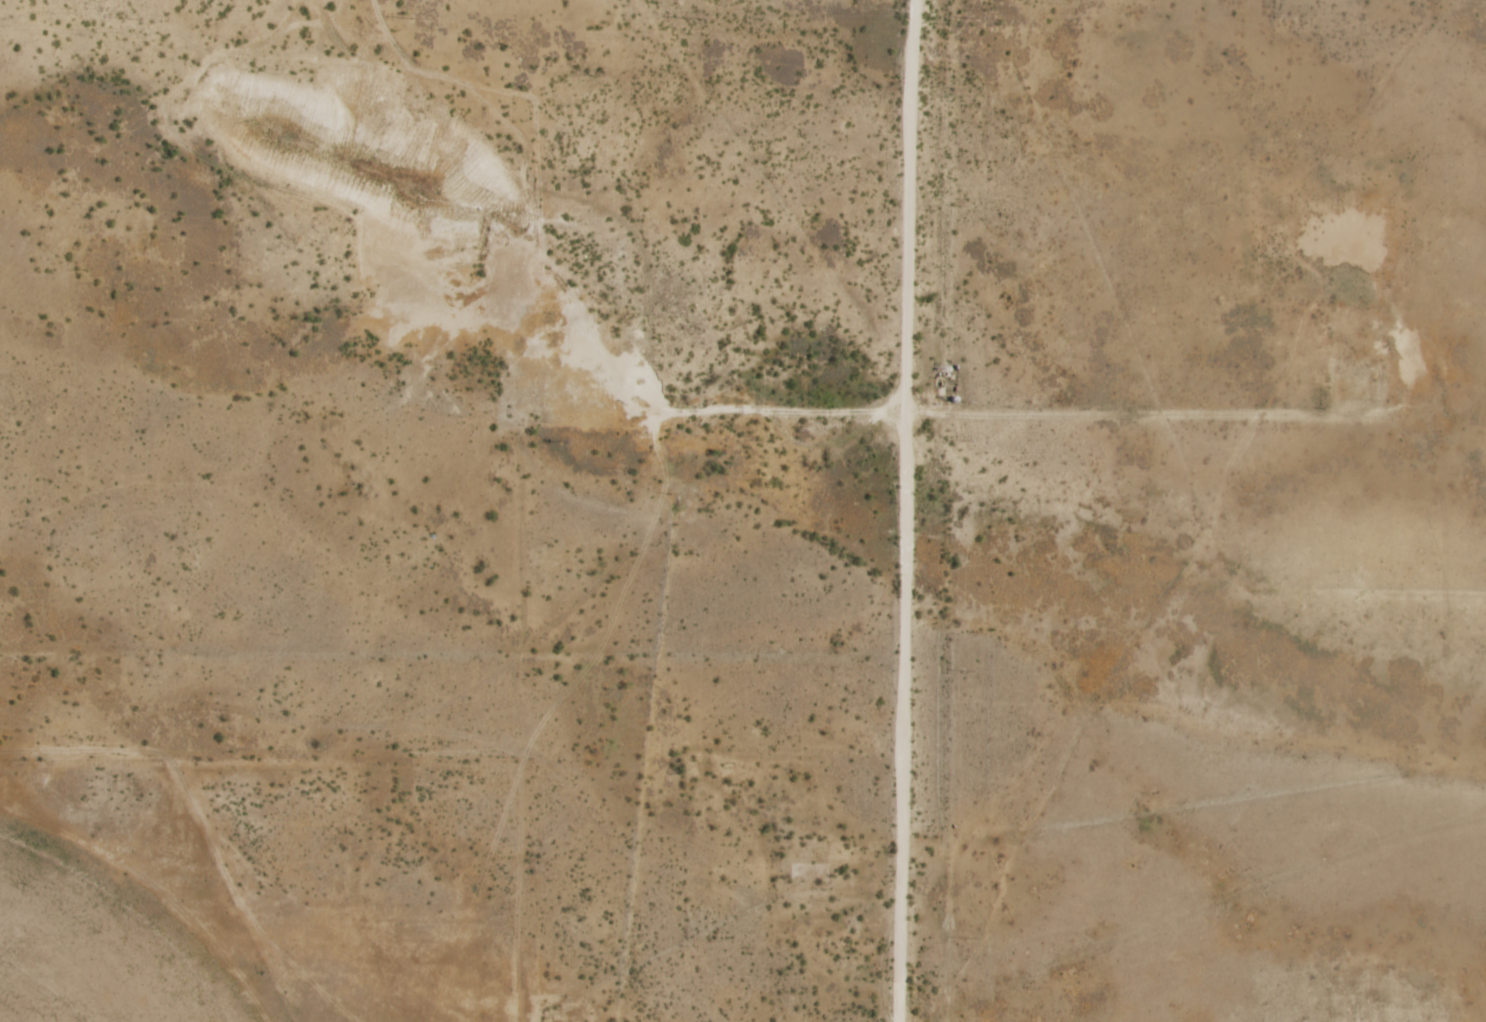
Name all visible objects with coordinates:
road: (914, 511)

